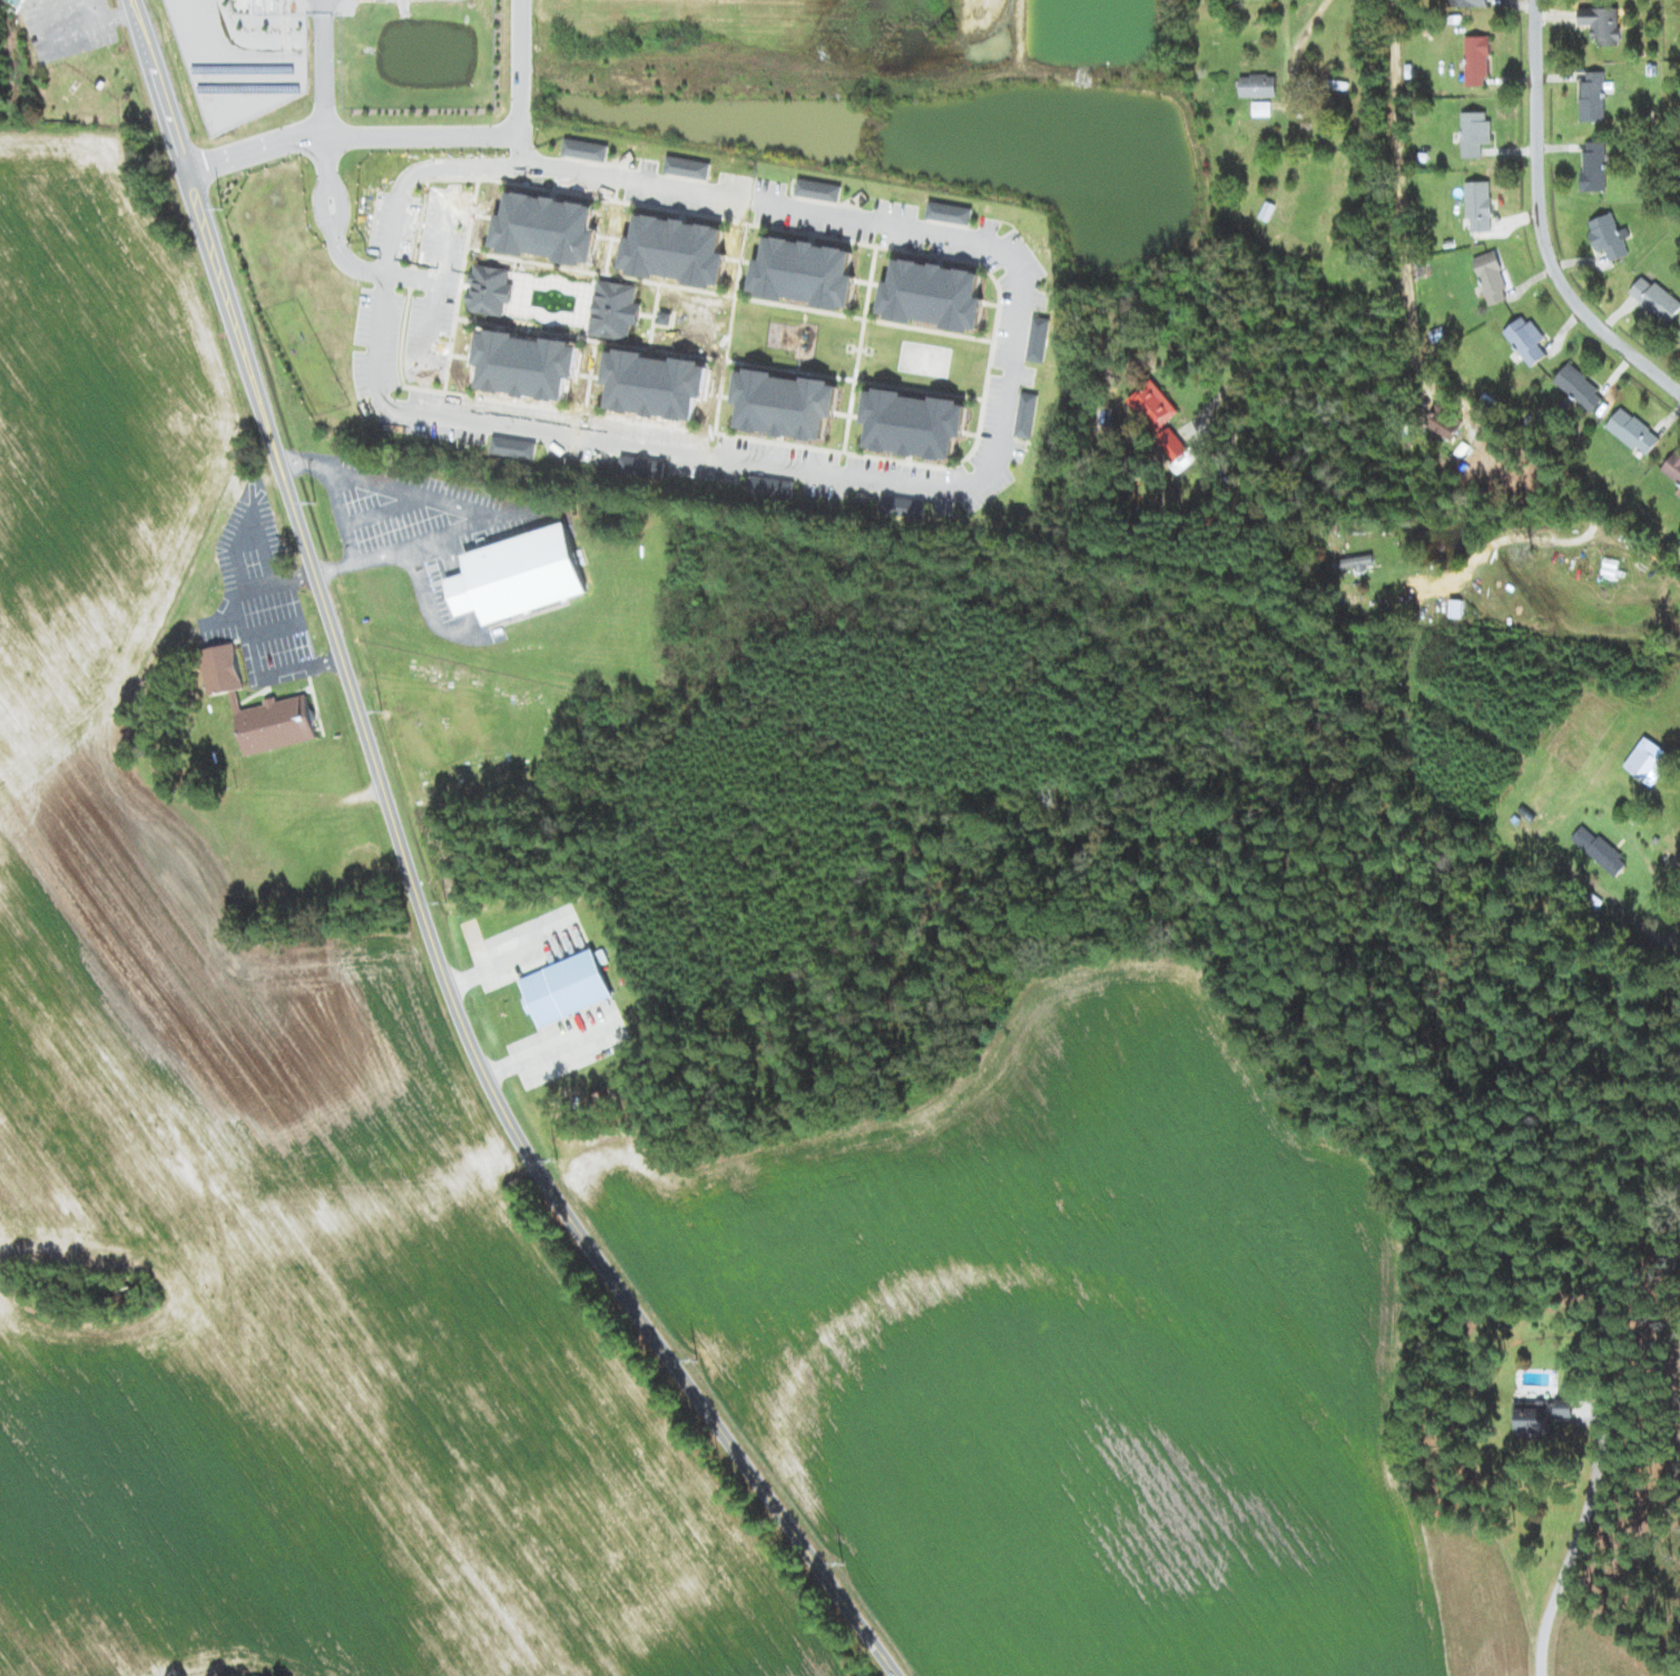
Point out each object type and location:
building: (1468, 2)
building: (1602, 23)
road: (1304, 38)
building: (1476, 60)
road: (321, 67)
road: (520, 68)
building: (1258, 86)
building: (1593, 99)
building: (1474, 133)
road: (351, 134)
road: (522, 140)
building: (584, 149)
road: (325, 161)
building: (687, 167)
building: (1594, 167)
building: (818, 189)
road: (338, 205)
building: (1478, 205)
road: (325, 206)
building: (950, 213)
road: (1540, 220)
building: (547, 228)
building: (1609, 236)
building: (676, 251)
road: (350, 261)
road: (442, 262)
building: (805, 273)
building: (1491, 276)
building: (491, 290)
building: (934, 295)
building: (1656, 298)
building: (616, 310)
road: (432, 330)
road: (1295, 334)
building: (1039, 339)
building: (1526, 340)
building: (525, 364)
road: (1440, 380)
building: (656, 384)
building: (1580, 388)
building: (785, 404)
building: (1025, 414)
building: (1158, 416)
building: (914, 423)
building: (1445, 424)
building: (1633, 431)
building: (514, 447)
building: (641, 467)
building: (1672, 467)
road: (868, 477)
building: (772, 487)
building: (1678, 492)
building: (903, 507)
building: (1353, 562)
building: (519, 575)
building: (1456, 608)
building: (258, 706)
building: (1645, 758)
building: (1539, 810)
building: (1600, 850)
road: (416, 886)
building: (566, 988)
building: (1563, 1407)
road: (1564, 1570)

